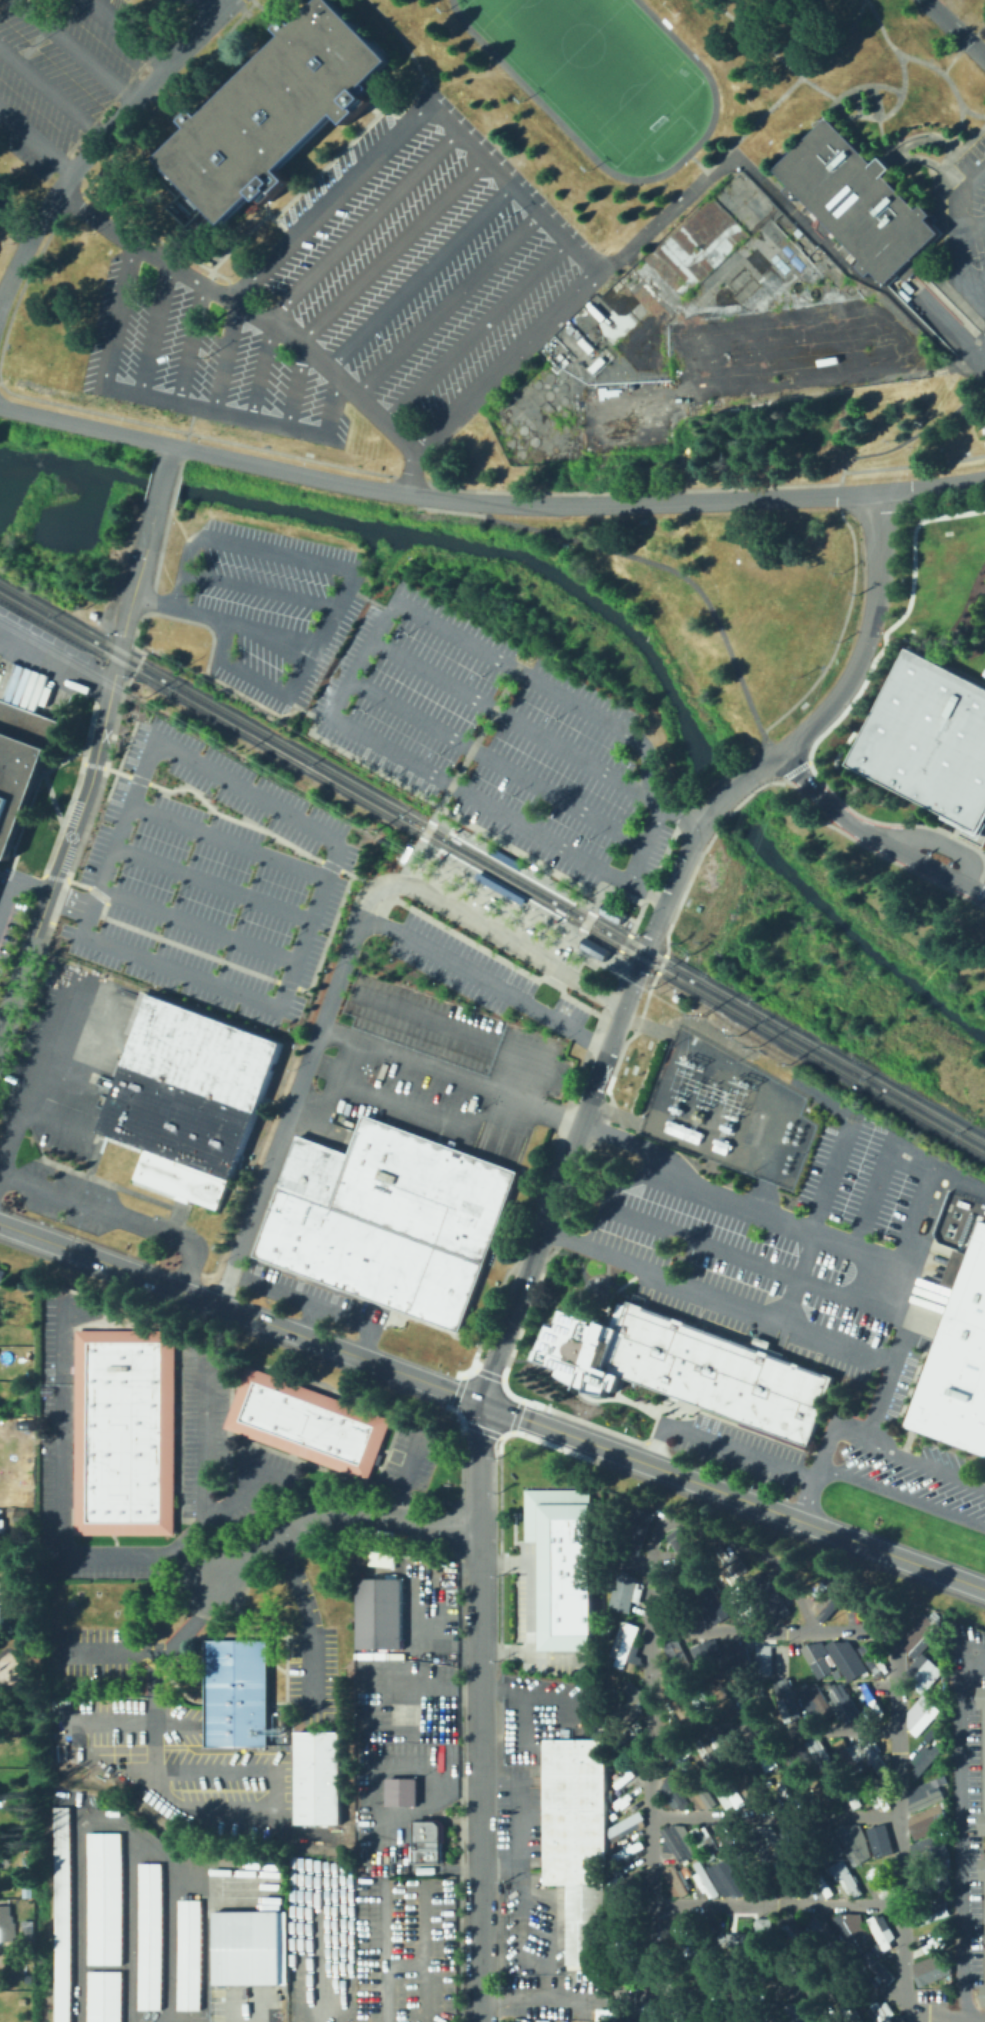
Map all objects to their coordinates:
road: (207, 9)
road: (954, 29)
road: (132, 34)
road: (960, 46)
road: (407, 48)
road: (78, 52)
park: (590, 64)
parking lot: (66, 75)
road: (943, 77)
road: (785, 90)
road: (52, 91)
track: (529, 92)
road: (106, 106)
road: (894, 106)
building: (277, 109)
road: (412, 119)
park: (670, 136)
road: (36, 140)
road: (103, 140)
building: (857, 199)
parking lot: (980, 201)
road: (676, 204)
road: (16, 225)
road: (363, 225)
road: (957, 234)
road: (972, 236)
road: (391, 249)
parking lot: (419, 257)
road: (419, 275)
road: (977, 276)
road: (447, 301)
road: (248, 310)
road: (941, 316)
road: (155, 327)
road: (474, 329)
road: (188, 341)
road: (981, 355)
road: (224, 356)
parking lot: (201, 361)
road: (260, 369)
parking lot: (981, 379)
road: (299, 387)
road: (167, 398)
road: (169, 453)
road: (209, 455)
road: (162, 483)
road: (931, 488)
road: (450, 502)
road: (679, 503)
road: (485, 512)
road: (676, 571)
road: (259, 588)
road: (131, 599)
road: (337, 600)
road: (154, 601)
parking lot: (273, 609)
road: (268, 631)
road: (867, 638)
road: (54, 663)
road: (346, 680)
road: (562, 695)
road: (302, 709)
building: (929, 740)
road: (477, 742)
parking lot: (501, 742)
road: (771, 748)
road: (495, 760)
road: (767, 763)
road: (730, 774)
building: (22, 777)
road: (730, 793)
road: (84, 794)
road: (685, 816)
road: (233, 818)
building: (981, 829)
building: (456, 830)
road: (428, 831)
road: (963, 832)
road: (870, 838)
road: (228, 840)
road: (941, 843)
road: (865, 847)
building: (405, 853)
building: (441, 855)
building: (505, 858)
road: (665, 859)
road: (412, 860)
road: (517, 860)
railway: (492, 861)
railway: (429, 863)
railway: (492, 873)
road: (326, 874)
road: (677, 880)
road: (212, 882)
parking lot: (983, 884)
road: (400, 885)
building: (499, 887)
road: (499, 892)
railway: (579, 893)
road: (616, 893)
building: (570, 894)
road: (982, 894)
building: (572, 896)
road: (495, 897)
road: (15, 901)
road: (643, 908)
building: (612, 911)
road: (512, 914)
building: (555, 919)
building: (557, 921)
road: (588, 921)
road: (197, 926)
road: (485, 928)
building: (593, 947)
road: (623, 948)
road: (572, 950)
road: (495, 956)
road: (24, 960)
road: (228, 962)
road: (559, 973)
parking lot: (486, 979)
road: (637, 979)
road: (486, 981)
road: (87, 1020)
road: (618, 1029)
road: (34, 1064)
road: (452, 1072)
road: (330, 1092)
building: (193, 1101)
building: (672, 1107)
power substation: (726, 1111)
road: (287, 1113)
road: (434, 1113)
road: (622, 1114)
building: (697, 1115)
road: (52, 1122)
building: (682, 1131)
road: (498, 1139)
road: (768, 1163)
road: (829, 1174)
road: (872, 1194)
road: (732, 1205)
road: (103, 1211)
road: (917, 1215)
building: (390, 1219)
road: (544, 1227)
road: (721, 1249)
road: (110, 1263)
building: (2, 1274)
road: (184, 1276)
road: (798, 1277)
road: (718, 1295)
road: (304, 1298)
road: (309, 1320)
road: (364, 1344)
road: (897, 1350)
road: (351, 1354)
building: (957, 1358)
building: (685, 1367)
building: (307, 1423)
road: (481, 1427)
building: (125, 1432)
road: (655, 1449)
road: (737, 1451)
road: (821, 1461)
road: (925, 1462)
road: (625, 1472)
road: (406, 1476)
road: (243, 1481)
road: (901, 1496)
road: (734, 1497)
road: (334, 1511)
building: (23, 1517)
building: (635, 1530)
road: (710, 1530)
building: (3, 1531)
road: (478, 1536)
building: (21, 1543)
road: (198, 1550)
building: (684, 1552)
road: (101, 1559)
building: (373, 1559)
building: (727, 1562)
road: (193, 1567)
building: (557, 1568)
building: (698, 1575)
building: (828, 1579)
road: (293, 1581)
building: (622, 1591)
building: (672, 1591)
building: (830, 1599)
building: (2, 1601)
building: (709, 1601)
building: (772, 1601)
building: (741, 1603)
building: (855, 1604)
building: (871, 1605)
road: (528, 1606)
building: (847, 1606)
building: (379, 1614)
building: (1, 1616)
building: (623, 1624)
road: (773, 1629)
building: (919, 1636)
road: (425, 1643)
building: (624, 1646)
road: (154, 1652)
building: (814, 1654)
building: (677, 1656)
building: (702, 1656)
building: (871, 1657)
building: (732, 1658)
building: (841, 1658)
building: (769, 1659)
building: (823, 1661)
road: (307, 1663)
building: (629, 1666)
road: (24, 1669)
building: (922, 1672)
park: (17, 1684)
road: (476, 1688)
building: (853, 1688)
building: (196, 1691)
building: (237, 1694)
building: (786, 1695)
building: (982, 1697)
building: (680, 1700)
building: (757, 1700)
building: (705, 1701)
building: (815, 1701)
building: (842, 1701)
building: (871, 1701)
building: (624, 1702)
building: (725, 1702)
building: (920, 1714)
building: (285, 1718)
building: (623, 1718)
road: (133, 1720)
building: (619, 1722)
road: (521, 1725)
road: (774, 1729)
building: (928, 1735)
building: (733, 1752)
building: (759, 1752)
building: (674, 1753)
building: (707, 1753)
building: (819, 1753)
building: (845, 1754)
building: (872, 1754)
building: (884, 1755)
building: (791, 1756)
building: (619, 1757)
building: (923, 1758)
building: (779, 1768)
road: (386, 1769)
road: (141, 1771)
building: (318, 1777)
building: (685, 1778)
building: (622, 1779)
road: (463, 1784)
building: (672, 1790)
building: (727, 1791)
building: (757, 1791)
building: (703, 1792)
building: (819, 1792)
building: (874, 1792)
building: (925, 1792)
building: (401, 1793)
building: (787, 1793)
building: (846, 1793)
building: (624, 1797)
road: (651, 1808)
road: (898, 1809)
building: (611, 1815)
road: (775, 1815)
road: (221, 1818)
road: (101, 1821)
building: (983, 1823)
building: (926, 1826)
road: (959, 1827)
building: (579, 1838)
building: (733, 1839)
building: (878, 1839)
building: (704, 1840)
building: (761, 1840)
building: (852, 1840)
building: (429, 1841)
building: (676, 1841)
building: (789, 1841)
building: (817, 1842)
road: (480, 1845)
building: (831, 1845)
building: (925, 1855)
road: (500, 1867)
building: (983, 1868)
building: (683, 1870)
building: (615, 1872)
building: (727, 1877)
building: (844, 1877)
building: (756, 1878)
building: (793, 1879)
building: (817, 1879)
building: (704, 1880)
building: (673, 1881)
road: (531, 1887)
building: (928, 1887)
building: (27, 1892)
building: (105, 1899)
road: (777, 1904)
building: (928, 1914)
building: (63, 1915)
road: (168, 1918)
building: (7, 1924)
building: (703, 1927)
building: (26, 1929)
building: (674, 1929)
building: (763, 1930)
building: (853, 1930)
building: (792, 1931)
building: (820, 1931)
building: (879, 1931)
building: (719, 1935)
building: (150, 1936)
building: (737, 1938)
road: (312, 1941)
building: (626, 1941)
building: (665, 1945)
building: (932, 1945)
building: (248, 1949)
building: (602, 1949)
road: (383, 1951)
road: (423, 1951)
building: (189, 1953)
building: (610, 1959)
building: (669, 1960)
building: (742, 1963)
building: (788, 1963)
building: (858, 1963)
building: (701, 1965)
building: (756, 1965)
road: (403, 1966)
building: (735, 1966)
building: (849, 1967)
building: (876, 1967)
building: (625, 1968)
building: (813, 1969)
building: (930, 1975)
building: (608, 1982)
road: (778, 1988)
building: (984, 1995)
building: (104, 1997)
road: (546, 1998)
road: (254, 2007)
building: (738, 2009)
building: (651, 2011)
building: (709, 2011)
building: (765, 2011)
building: (879, 2011)
building: (677, 2012)
building: (796, 2012)
building: (820, 2012)
building: (849, 2012)
building: (0, 2015)
road: (936, 2015)

